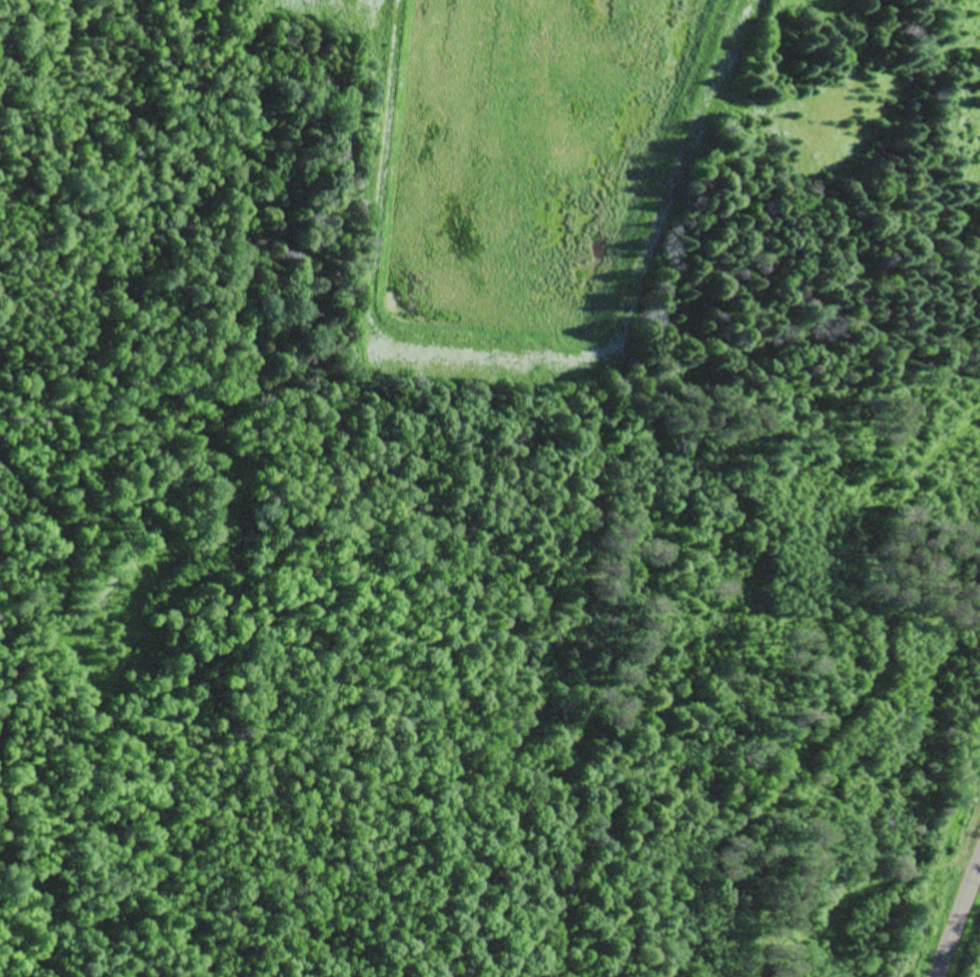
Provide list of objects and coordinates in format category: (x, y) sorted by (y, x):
road: (957, 916)

